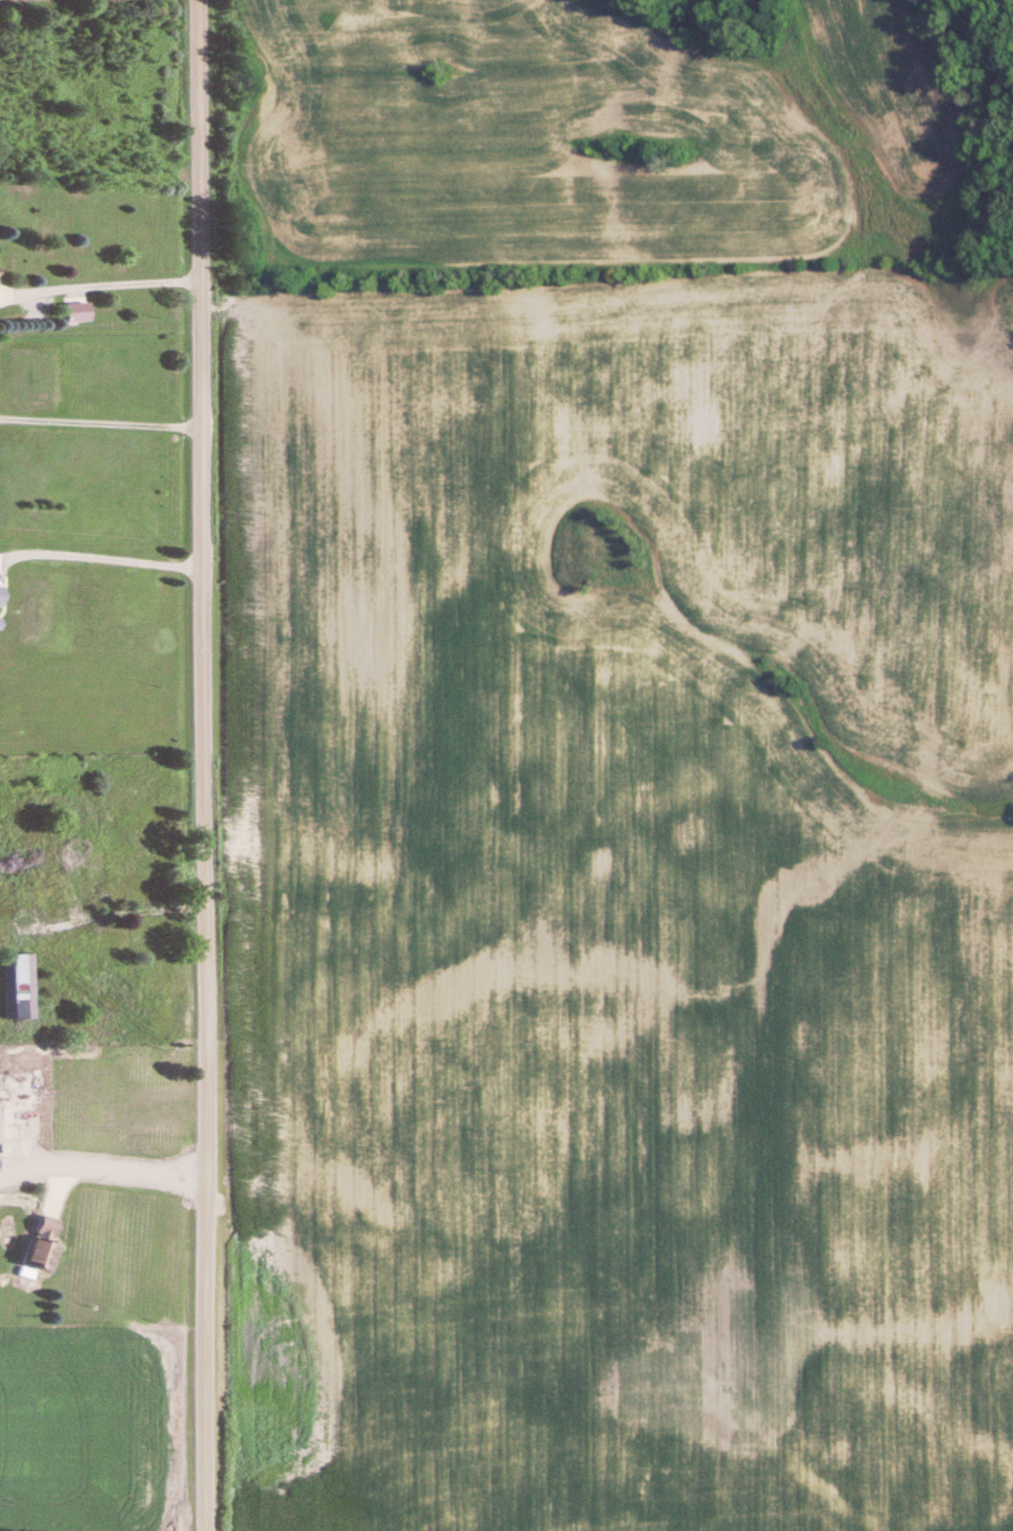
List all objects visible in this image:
road: (110, 288)
road: (101, 426)
road: (101, 562)
road: (203, 765)
building: (46, 900)
road: (112, 916)
building: (13, 986)
road: (133, 1174)
building: (39, 1225)
building: (33, 1253)

